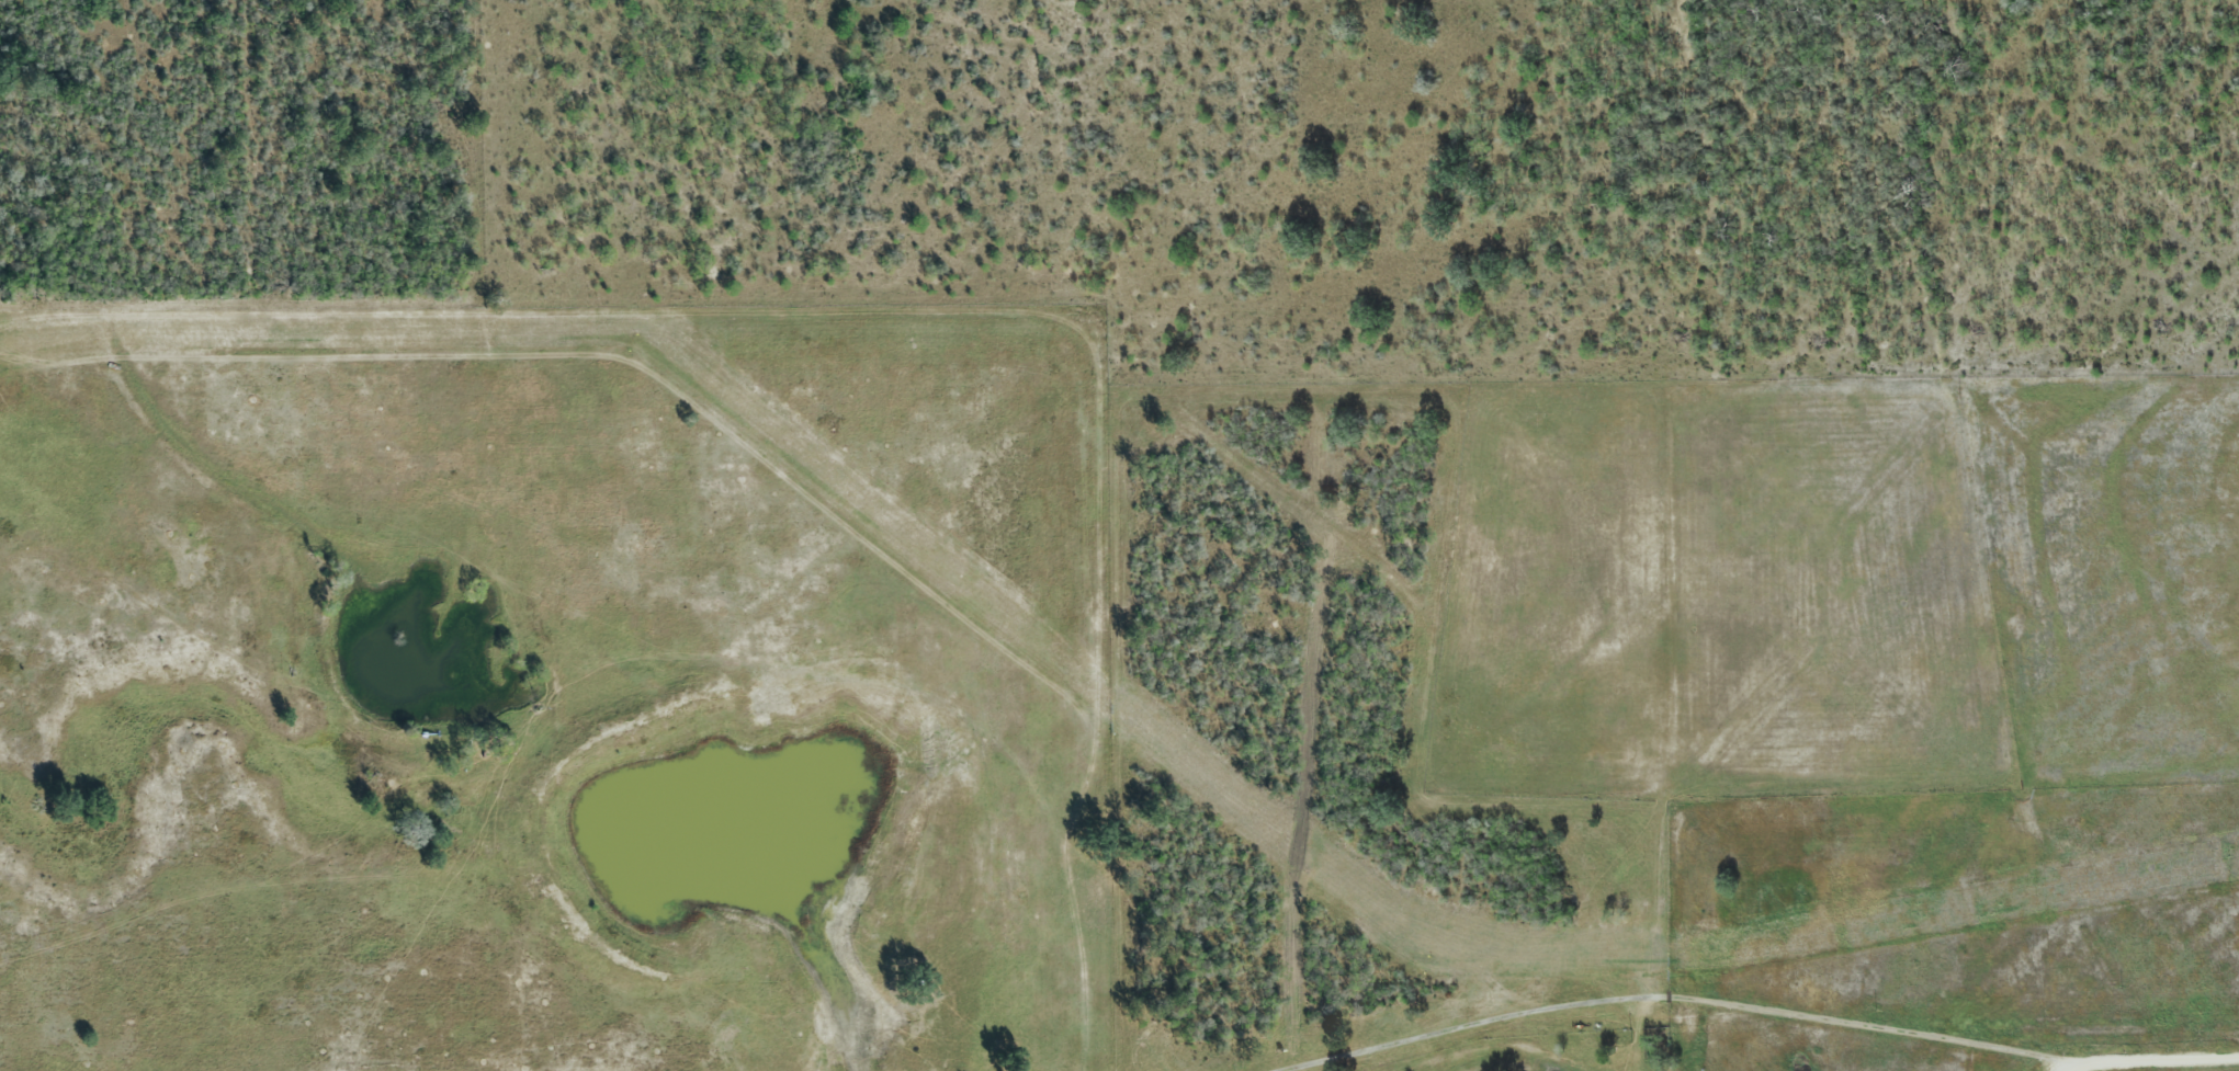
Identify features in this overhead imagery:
road: (2145, 1059)

